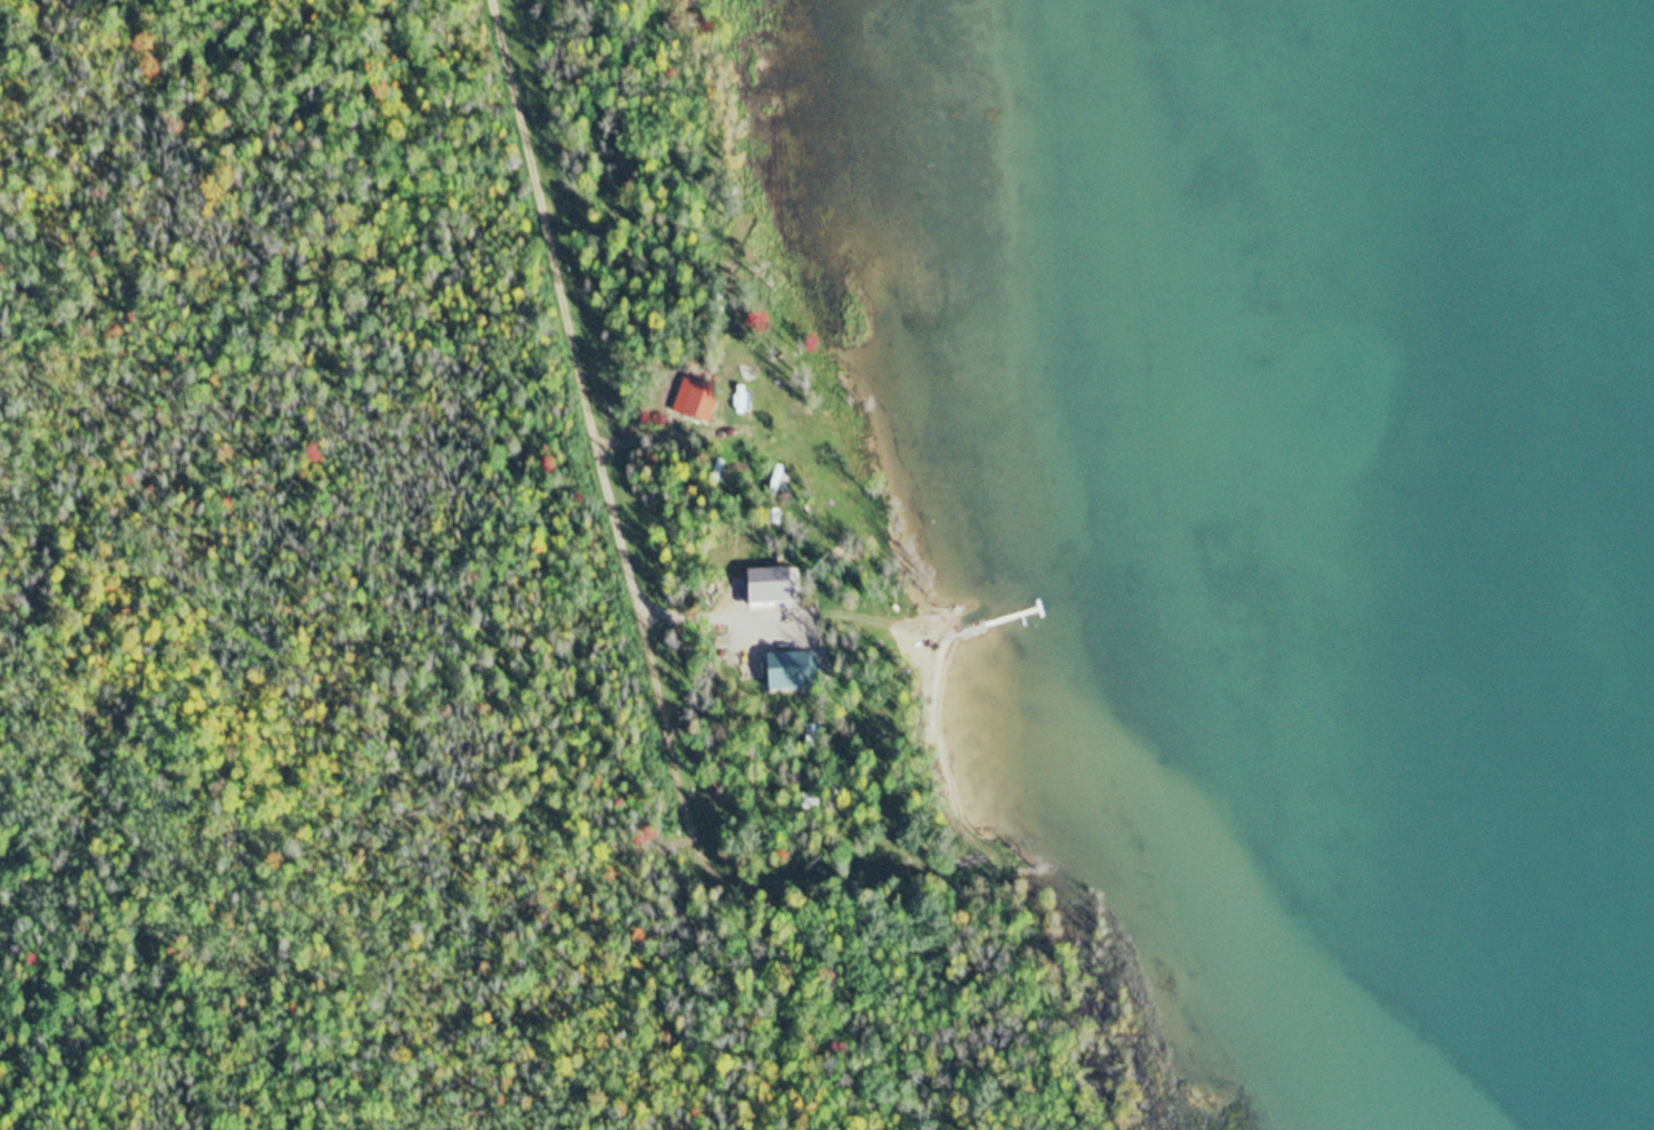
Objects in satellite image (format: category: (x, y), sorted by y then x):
building: (776, 587)
building: (795, 672)

